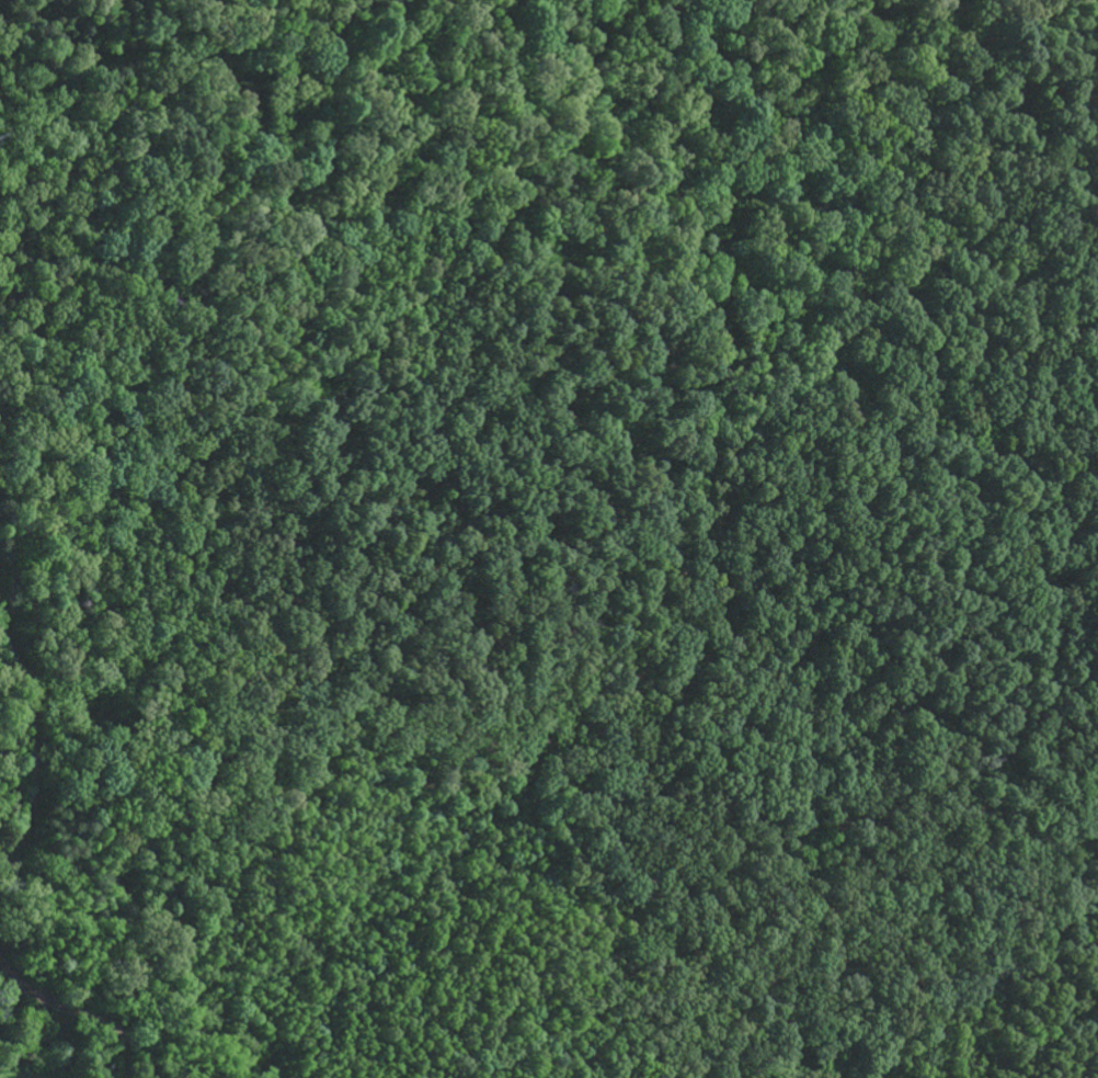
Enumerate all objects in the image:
road: (35, 748)
road: (81, 1015)

